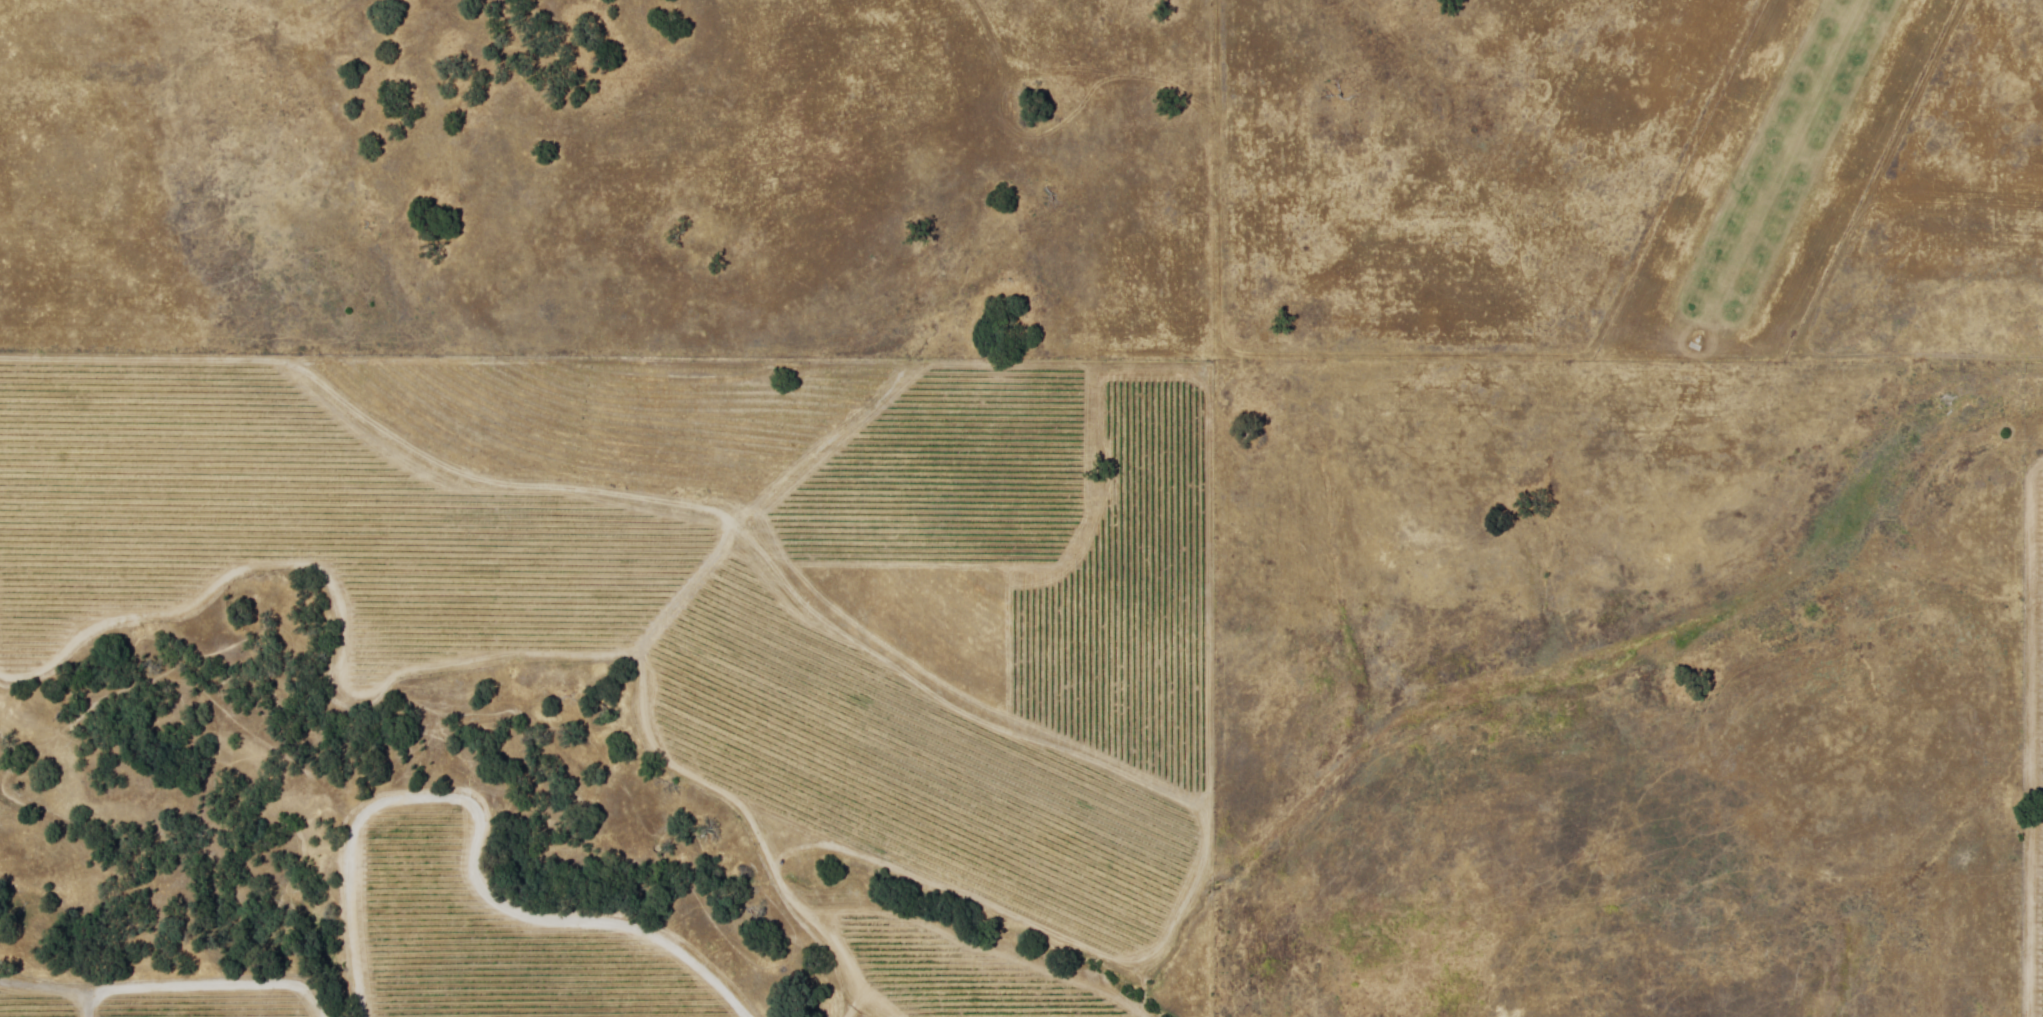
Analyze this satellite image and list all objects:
airport: (1774, 181)
airport runway: (1690, 355)

